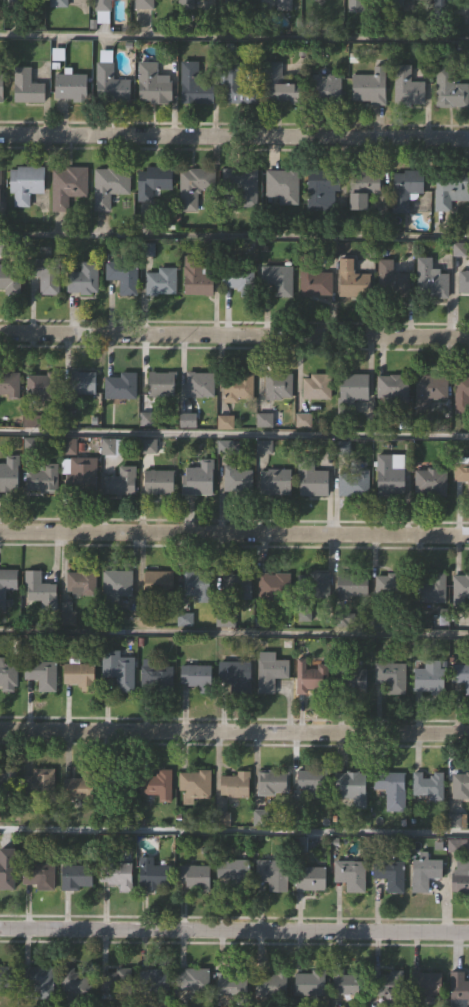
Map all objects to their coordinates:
building: (232, 0)
building: (407, 0)
building: (24, 2)
building: (58, 3)
building: (144, 4)
building: (193, 4)
building: (102, 5)
building: (358, 5)
road: (234, 36)
building: (26, 85)
building: (110, 85)
building: (152, 85)
building: (194, 85)
building: (1, 86)
building: (237, 86)
building: (280, 86)
building: (407, 86)
building: (71, 87)
building: (370, 87)
building: (327, 89)
building: (450, 89)
road: (234, 132)
building: (153, 182)
building: (25, 184)
building: (193, 184)
building: (67, 185)
building: (108, 185)
building: (282, 187)
building: (405, 187)
building: (240, 188)
building: (324, 188)
building: (364, 188)
building: (0, 189)
building: (450, 193)
road: (234, 238)
building: (123, 275)
building: (196, 276)
building: (12, 278)
building: (49, 278)
building: (82, 278)
building: (279, 279)
building: (353, 279)
building: (239, 280)
building: (391, 280)
building: (431, 280)
building: (160, 281)
building: (464, 281)
building: (318, 283)
road: (234, 333)
building: (82, 383)
building: (161, 384)
building: (41, 385)
building: (199, 385)
building: (8, 386)
building: (120, 386)
building: (237, 386)
building: (277, 386)
building: (316, 386)
building: (354, 386)
building: (392, 387)
building: (430, 389)
building: (462, 394)
road: (234, 437)
building: (112, 447)
building: (461, 472)
building: (9, 473)
building: (79, 475)
building: (391, 475)
building: (41, 477)
building: (198, 478)
building: (236, 478)
building: (119, 482)
building: (159, 482)
building: (274, 482)
building: (314, 482)
building: (430, 482)
building: (353, 483)
road: (234, 532)
building: (7, 581)
building: (82, 582)
building: (117, 583)
building: (157, 583)
building: (198, 585)
building: (352, 585)
building: (236, 586)
building: (273, 586)
building: (313, 586)
building: (390, 586)
building: (461, 587)
building: (431, 588)
building: (38, 589)
building: (68, 611)
road: (234, 635)
building: (118, 670)
building: (39, 673)
building: (271, 673)
building: (79, 675)
building: (155, 675)
building: (195, 675)
building: (8, 676)
building: (235, 676)
building: (461, 676)
building: (391, 677)
building: (429, 677)
building: (308, 679)
building: (352, 686)
road: (234, 729)
building: (130, 780)
building: (311, 781)
building: (7, 782)
building: (273, 783)
building: (39, 784)
building: (156, 784)
building: (460, 784)
building: (82, 785)
building: (194, 786)
building: (234, 786)
building: (427, 786)
building: (352, 787)
building: (391, 790)
road: (234, 834)
building: (7, 869)
building: (232, 870)
building: (424, 873)
building: (272, 874)
building: (389, 874)
building: (116, 875)
building: (153, 875)
building: (351, 875)
building: (461, 875)
building: (37, 877)
building: (76, 877)
building: (194, 877)
building: (310, 878)
road: (234, 927)
building: (7, 978)
building: (37, 980)
building: (193, 980)
building: (74, 981)
building: (115, 981)
building: (153, 981)
building: (227, 982)
building: (265, 984)
building: (309, 984)
building: (427, 984)
building: (346, 985)
building: (388, 987)
building: (458, 989)

